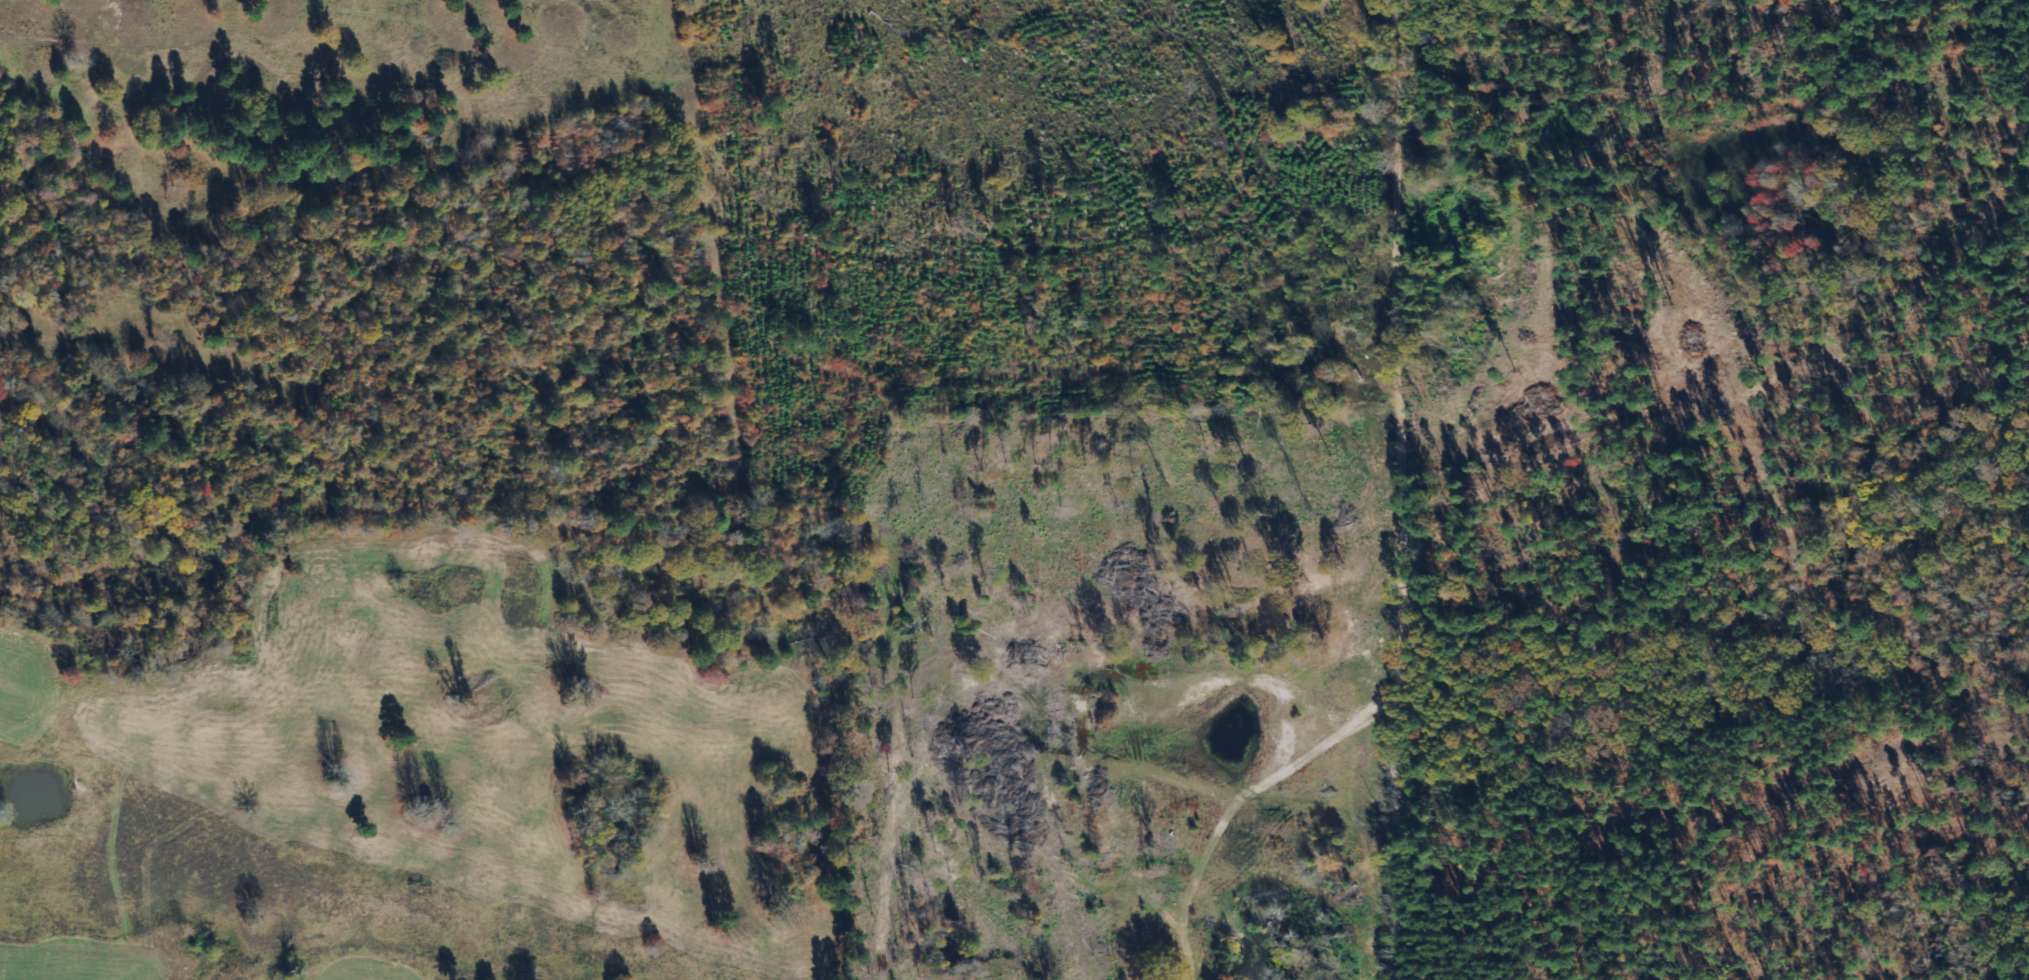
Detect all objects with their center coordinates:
road: (1397, 488)

